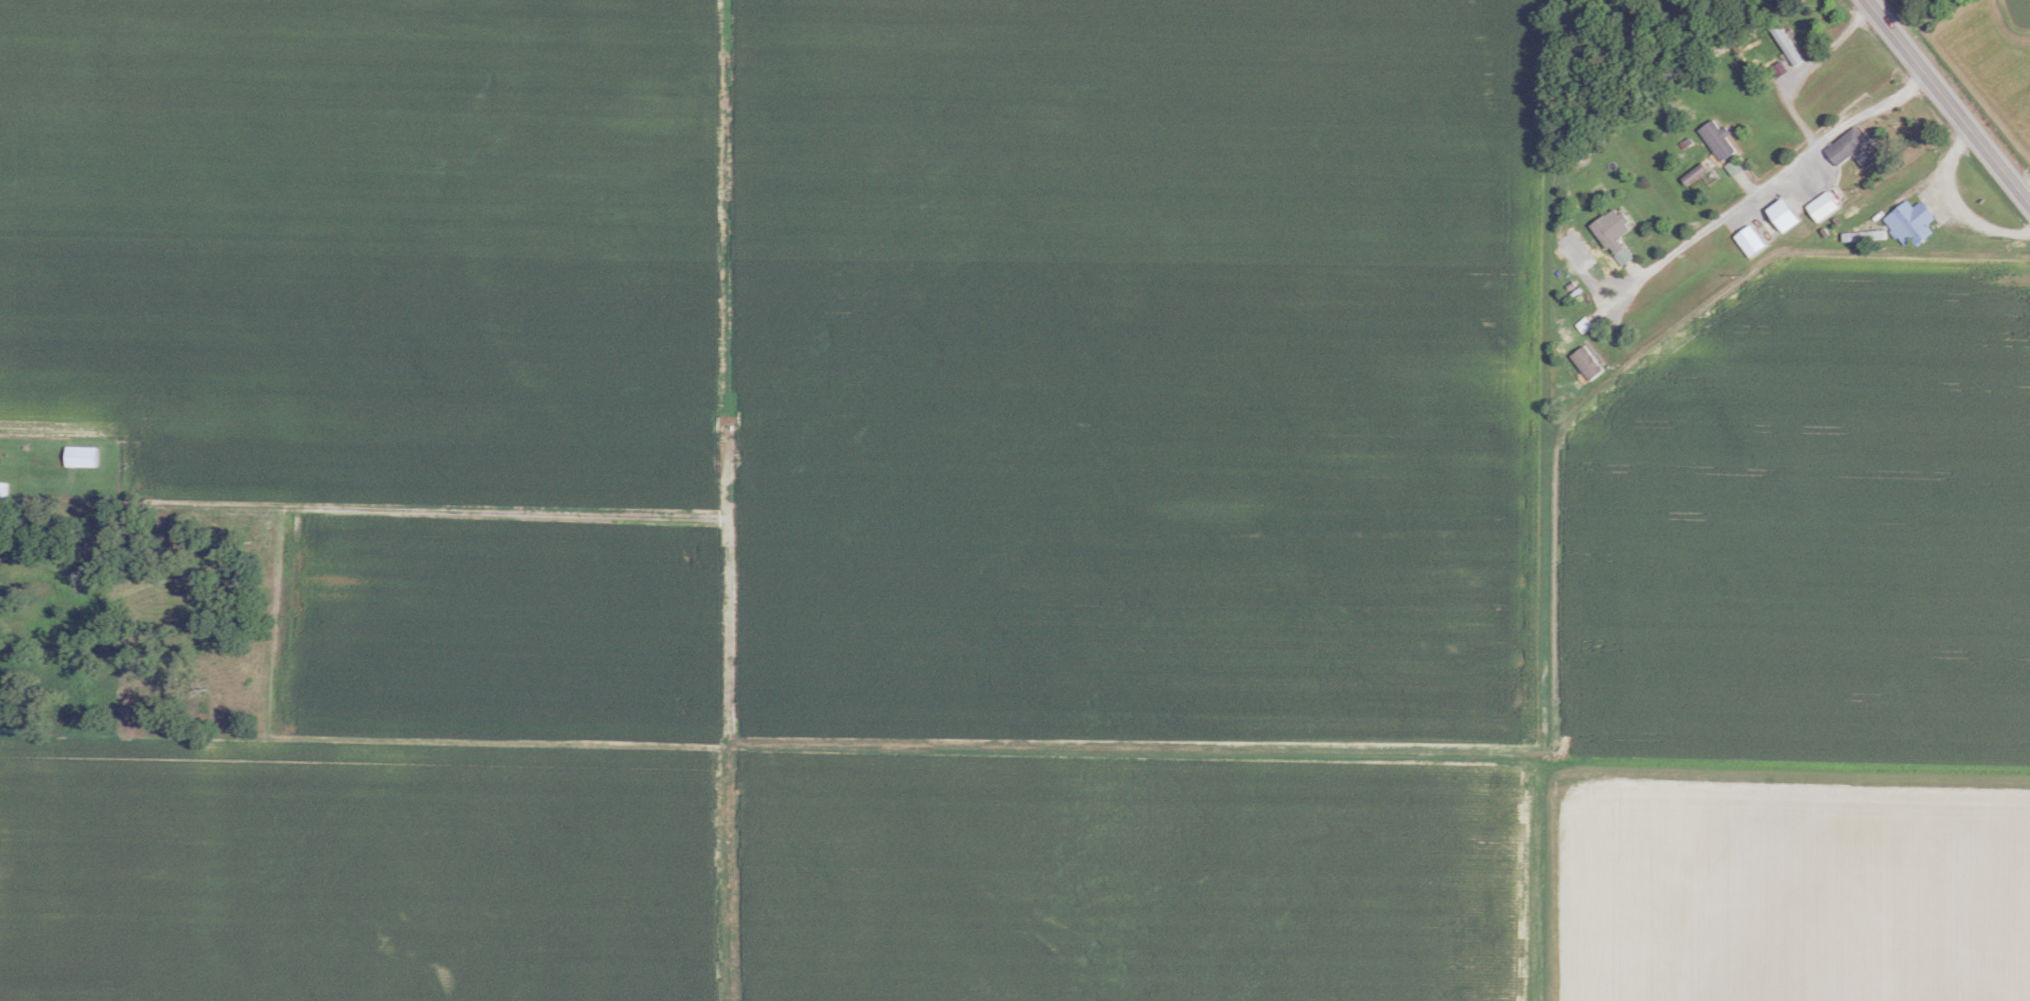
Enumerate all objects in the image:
road: (1949, 101)
building: (1716, 140)
building: (1851, 148)
road: (1782, 169)
road: (2026, 189)
road: (1955, 202)
building: (1777, 219)
building: (1908, 222)
building: (1603, 232)
building: (1621, 257)
building: (1584, 362)
building: (78, 456)
building: (2, 489)

